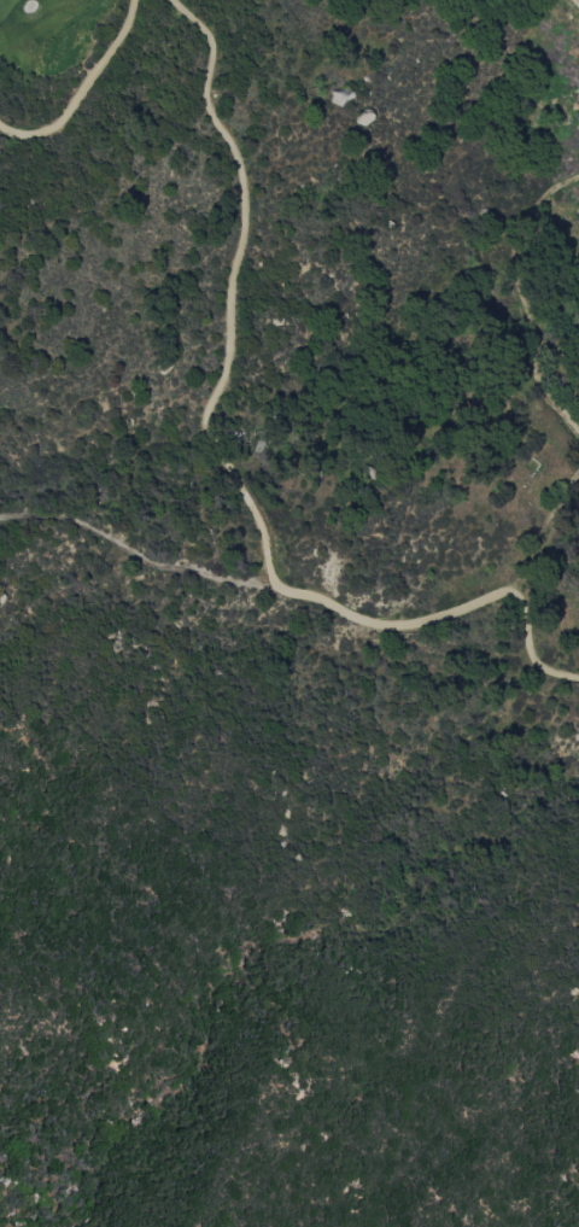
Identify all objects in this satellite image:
road: (578, 0)
park: (47, 34)
road: (82, 89)
road: (525, 300)
road: (226, 467)
road: (545, 531)
road: (135, 555)

